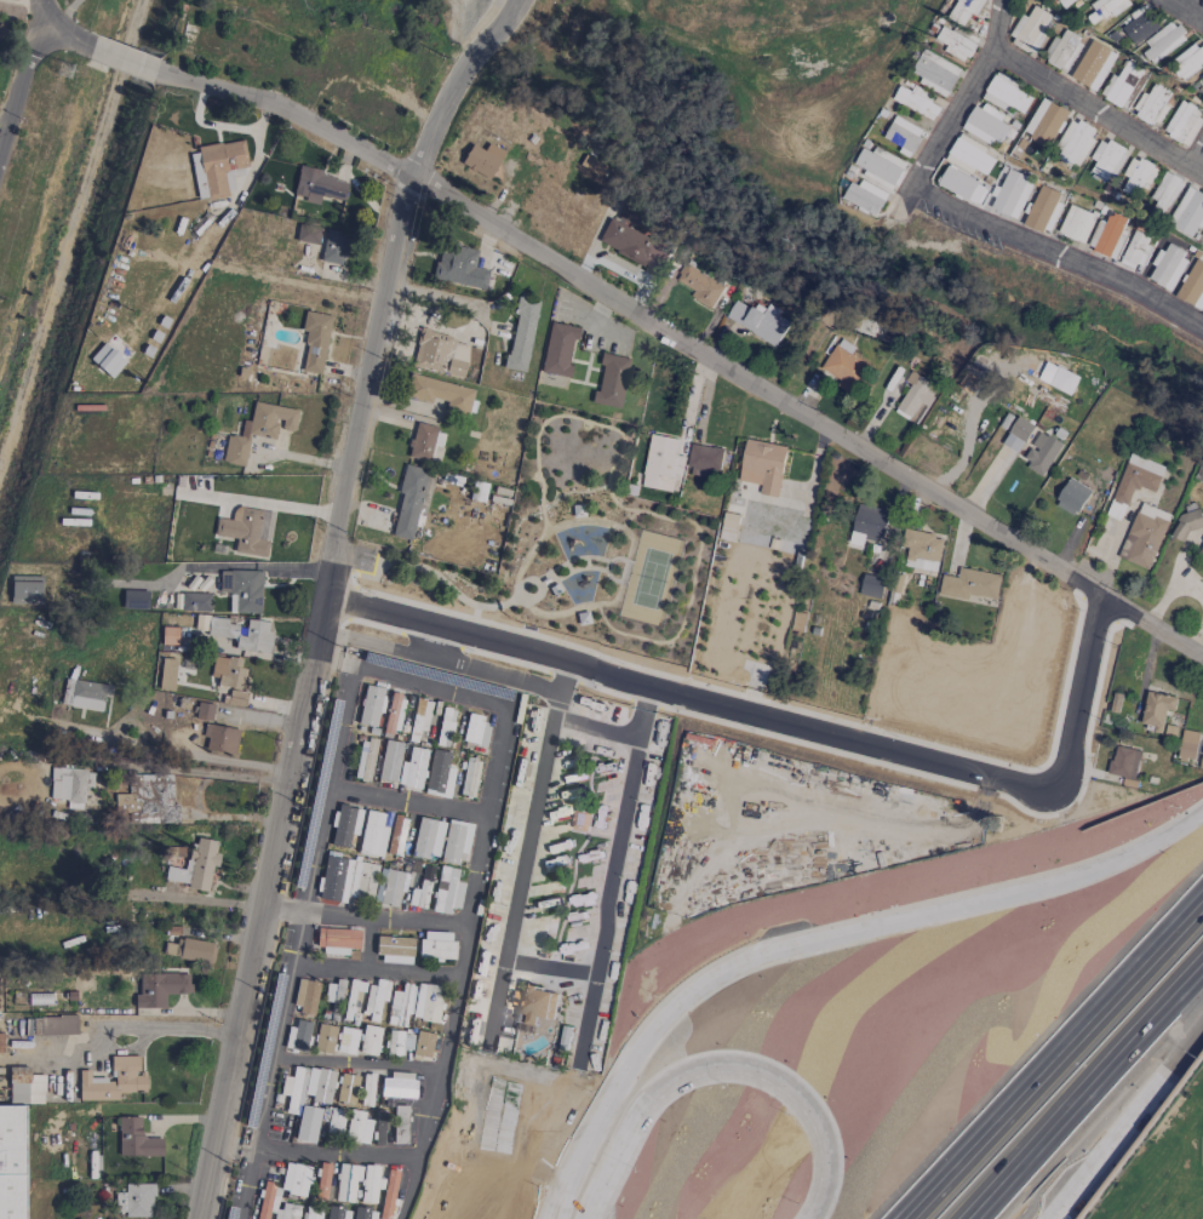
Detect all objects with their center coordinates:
building: (1066, 2)
building: (1201, 2)
building: (1109, 6)
building: (963, 10)
road: (1186, 10)
road: (63, 15)
building: (1140, 27)
building: (1029, 29)
road: (56, 32)
building: (1163, 40)
building: (956, 42)
building: (1061, 51)
building: (1187, 59)
road: (122, 61)
building: (1093, 64)
building: (935, 71)
building: (1202, 78)
road: (18, 82)
building: (1121, 84)
building: (1006, 93)
building: (916, 101)
building: (1151, 104)
road: (1088, 107)
building: (1044, 121)
building: (1184, 121)
building: (985, 124)
building: (903, 135)
building: (1073, 143)
building: (969, 155)
building: (1106, 158)
building: (482, 160)
road: (1186, 164)
building: (590, 166)
building: (880, 166)
building: (214, 167)
building: (1138, 176)
building: (957, 183)
building: (319, 187)
building: (1010, 193)
building: (1164, 193)
building: (864, 196)
building: (1043, 208)
building: (1187, 212)
road: (967, 216)
building: (1076, 223)
railway: (70, 233)
building: (308, 235)
building: (1107, 235)
building: (634, 245)
building: (333, 247)
building: (1135, 251)
building: (1167, 265)
building: (459, 267)
building: (699, 285)
building: (758, 320)
building: (519, 336)
building: (314, 342)
road: (688, 344)
building: (557, 350)
building: (440, 354)
building: (107, 360)
building: (843, 365)
building: (611, 382)
building: (439, 393)
building: (913, 395)
road: (972, 413)
building: (258, 430)
building: (1018, 434)
building: (420, 442)
building: (1042, 454)
building: (705, 460)
building: (663, 462)
building: (763, 465)
building: (1135, 481)
building: (477, 492)
building: (1072, 497)
building: (411, 500)
road: (258, 504)
road: (628, 509)
building: (578, 511)
road: (628, 517)
building: (870, 521)
building: (1188, 521)
building: (729, 526)
building: (247, 531)
building: (1144, 534)
park: (575, 546)
building: (1201, 549)
building: (922, 550)
parking lot: (365, 560)
road: (568, 561)
road: (588, 563)
road: (606, 565)
road: (187, 567)
road: (568, 568)
road: (569, 573)
park: (651, 578)
road: (538, 584)
building: (969, 584)
building: (871, 585)
building: (24, 590)
building: (242, 590)
building: (555, 590)
road: (322, 595)
building: (134, 600)
building: (194, 602)
road: (586, 606)
building: (583, 619)
building: (168, 636)
road: (334, 659)
building: (228, 673)
building: (166, 675)
road: (557, 682)
road: (422, 685)
building: (82, 694)
building: (236, 698)
building: (370, 705)
building: (1161, 708)
building: (204, 711)
building: (394, 712)
road: (640, 715)
building: (418, 717)
road: (780, 723)
building: (445, 727)
building: (475, 729)
building: (220, 739)
building: (1187, 744)
road: (542, 751)
building: (365, 760)
building: (567, 760)
building: (389, 761)
building: (1123, 761)
building: (412, 769)
road: (181, 771)
building: (439, 774)
building: (469, 778)
building: (67, 784)
building: (148, 800)
building: (580, 819)
building: (344, 825)
building: (372, 835)
building: (396, 836)
building: (428, 839)
building: (454, 841)
road: (609, 862)
building: (195, 865)
building: (345, 880)
building: (391, 888)
building: (420, 889)
building: (447, 891)
road: (188, 899)
road: (442, 926)
road: (819, 935)
building: (337, 942)
building: (436, 946)
building: (188, 950)
building: (395, 950)
road: (377, 969)
road: (542, 971)
building: (159, 989)
building: (305, 996)
building: (353, 997)
building: (428, 1003)
building: (533, 1003)
building: (399, 1006)
building: (55, 1025)
road: (150, 1029)
building: (298, 1035)
building: (323, 1038)
building: (345, 1041)
building: (370, 1041)
building: (423, 1045)
road: (1055, 1060)
road: (356, 1061)
road: (274, 1065)
road: (705, 1074)
building: (113, 1081)
building: (319, 1084)
building: (397, 1086)
building: (24, 1087)
building: (346, 1089)
building: (293, 1091)
building: (367, 1091)
road: (1083, 1092)
road: (1121, 1112)
road: (425, 1118)
building: (334, 1121)
building: (307, 1124)
building: (400, 1126)
building: (357, 1128)
building: (136, 1140)
building: (12, 1162)
building: (294, 1179)
building: (322, 1181)
building: (346, 1183)
building: (370, 1184)
road: (407, 1187)
building: (134, 1201)
building: (274, 1204)
building: (357, 1213)
building: (311, 1214)

